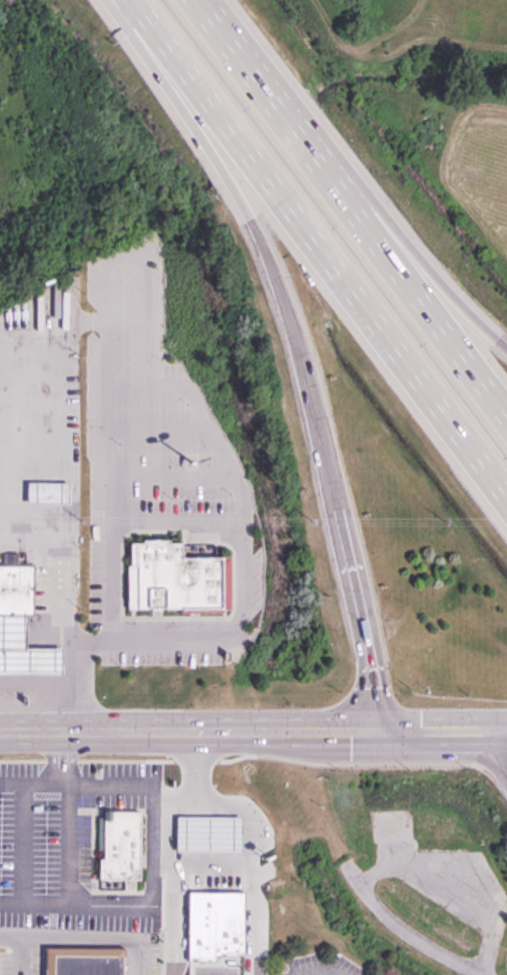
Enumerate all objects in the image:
road: (351, 207)
road: (259, 238)
road: (118, 255)
road: (315, 255)
road: (426, 272)
road: (101, 399)
parking lot: (140, 426)
road: (152, 428)
road: (166, 473)
building: (185, 477)
building: (45, 491)
gas station: (45, 491)
road: (172, 516)
building: (176, 574)
road: (236, 583)
building: (14, 589)
road: (358, 605)
parking lot: (184, 627)
road: (145, 638)
building: (23, 650)
gas station: (23, 650)
road: (81, 687)
road: (498, 730)
road: (437, 731)
traffic signals: (489, 731)
road: (192, 732)
traffic signals: (386, 732)
road: (498, 752)
road: (122, 782)
building: (189, 801)
building: (210, 834)
road: (169, 841)
parking lot: (71, 845)
building: (118, 845)
road: (71, 848)
road: (253, 851)
building: (196, 874)
road: (150, 903)
road: (260, 919)
building: (216, 927)
road: (6, 935)
road: (91, 937)
parking lot: (138, 950)
road: (18, 955)
building: (81, 961)
parking lot: (322, 966)
road: (218, 971)

